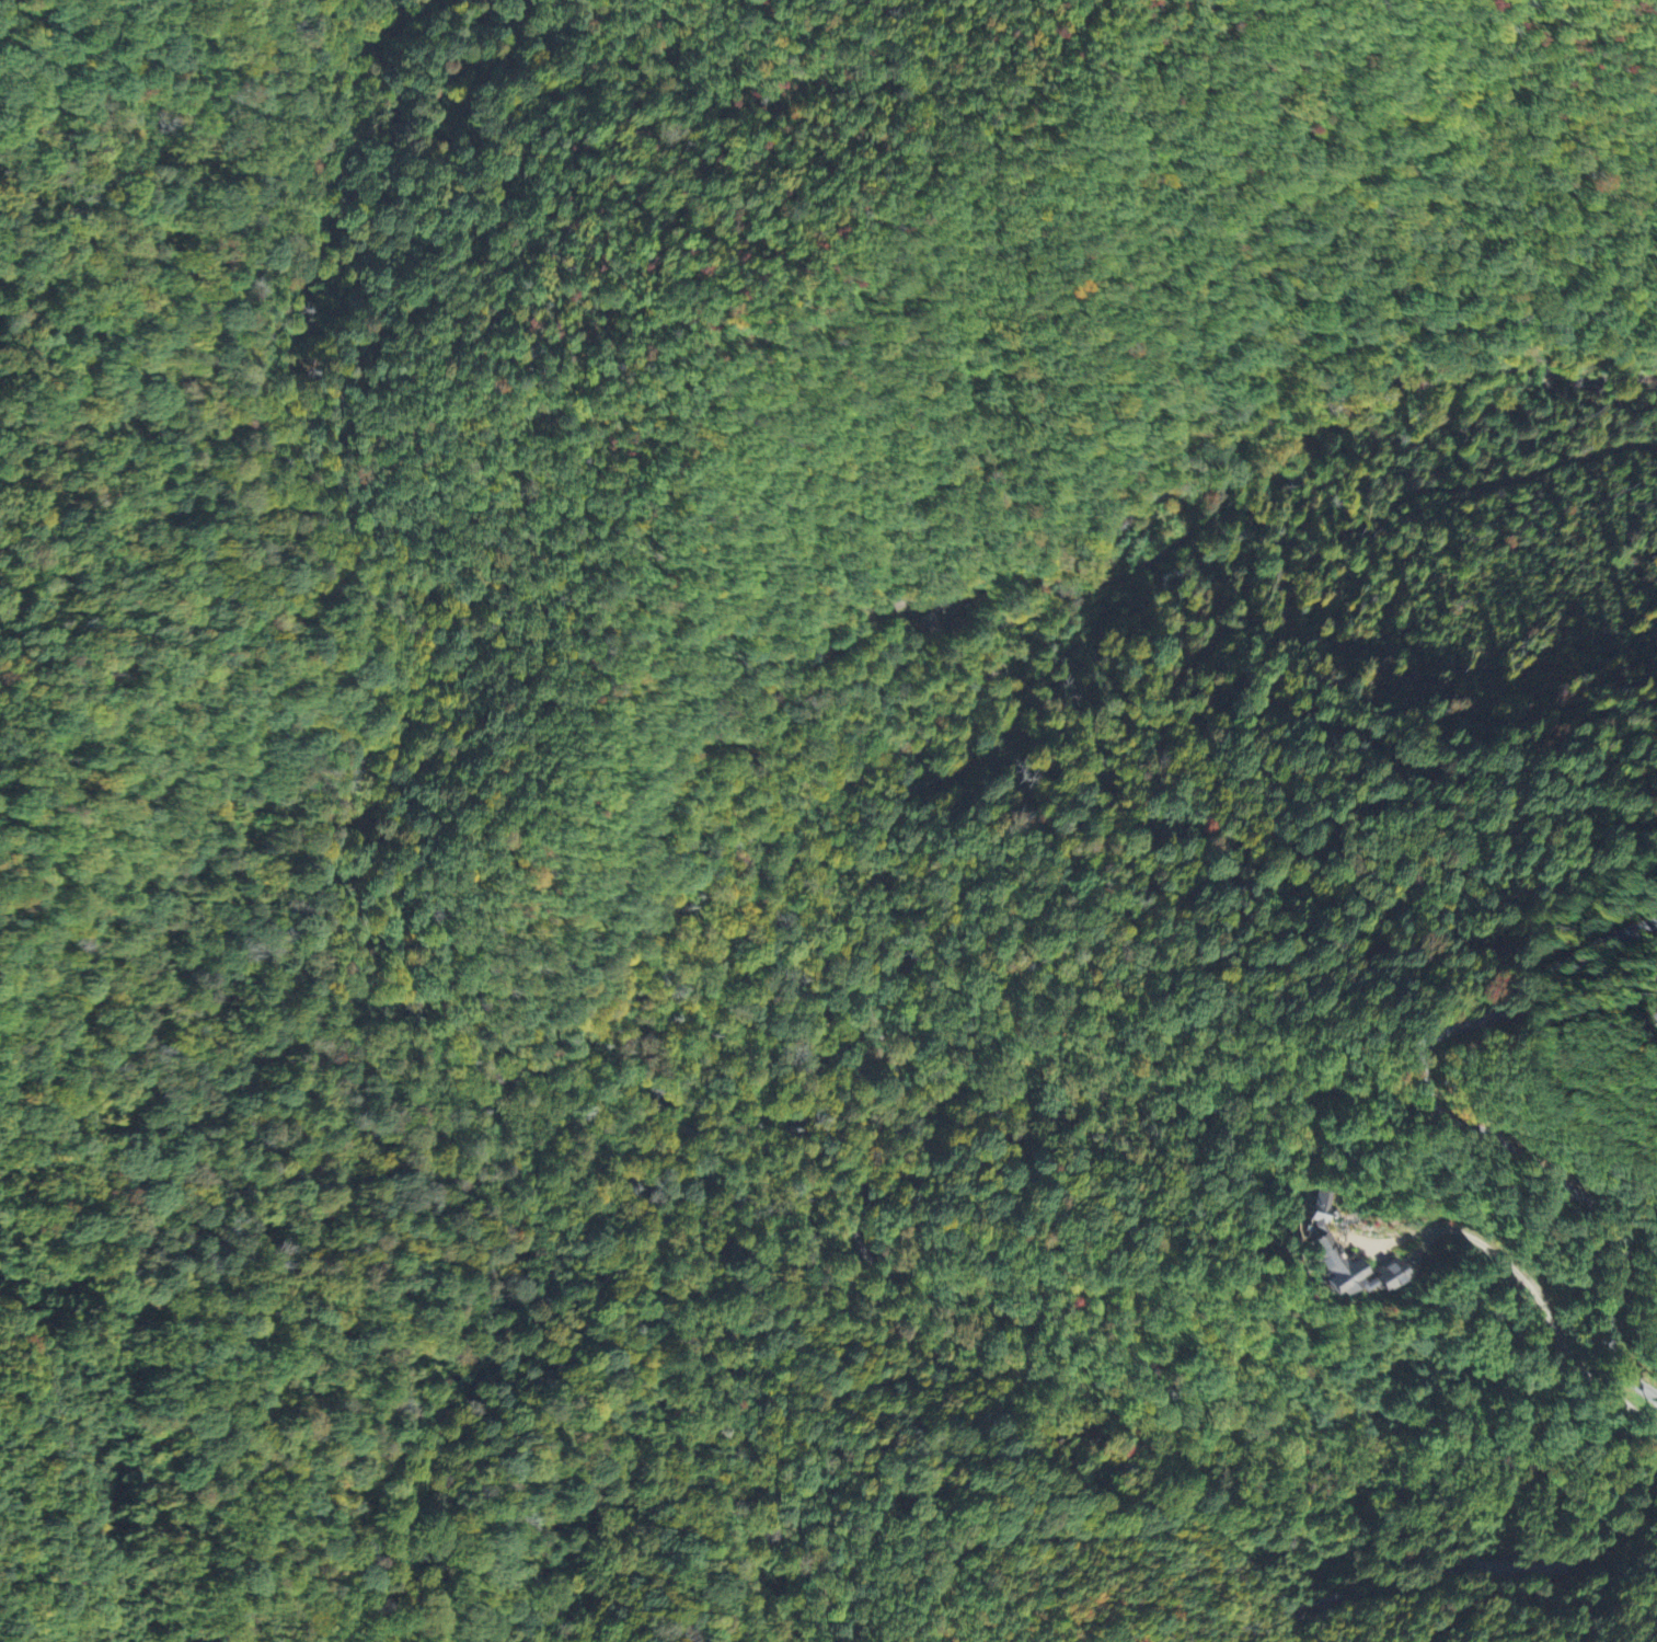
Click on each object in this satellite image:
road: (1466, 1124)
road: (851, 1172)
building: (1333, 1270)
road: (76, 1460)
road: (1620, 1527)
road: (1228, 1546)

